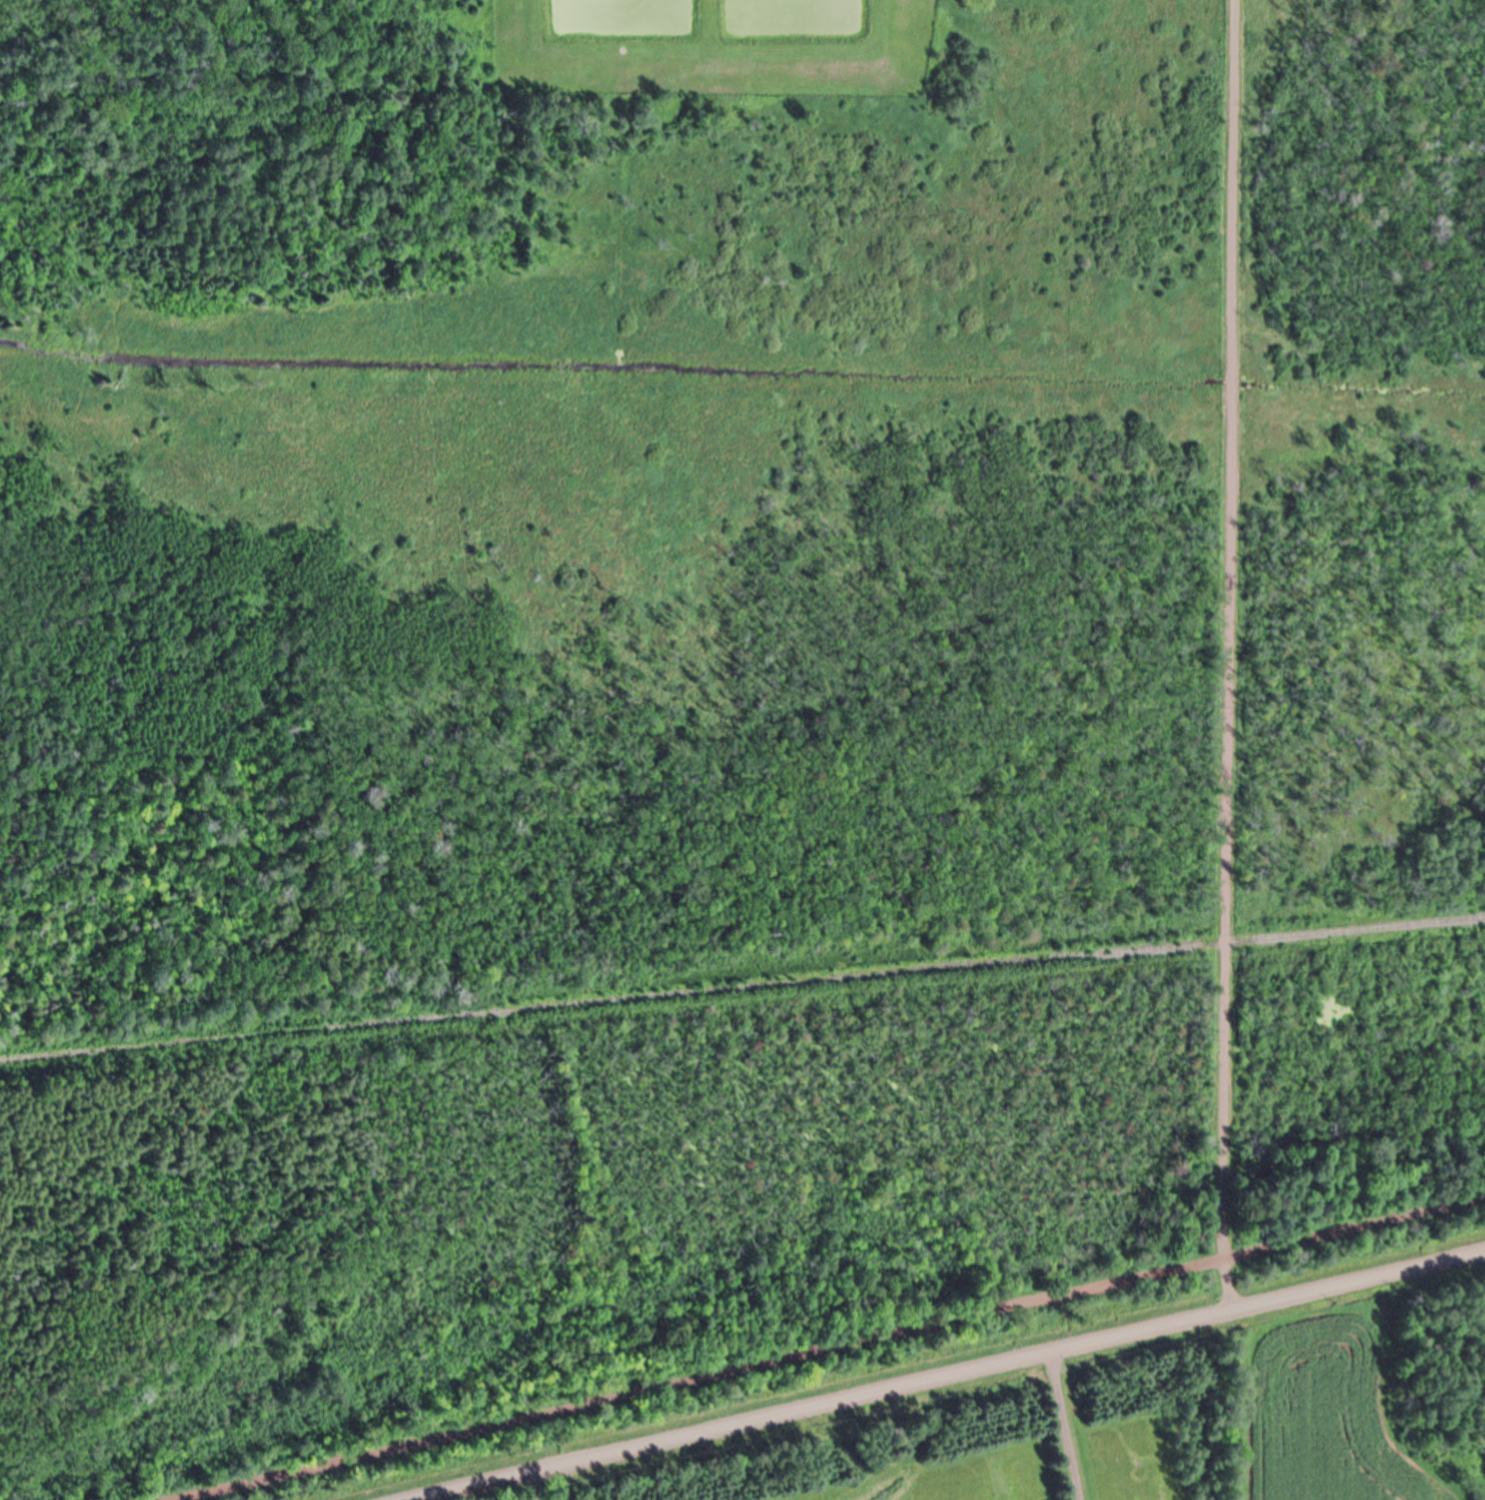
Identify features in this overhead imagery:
road: (1228, 656)
railway: (742, 990)
road: (838, 1349)
road: (943, 1376)

